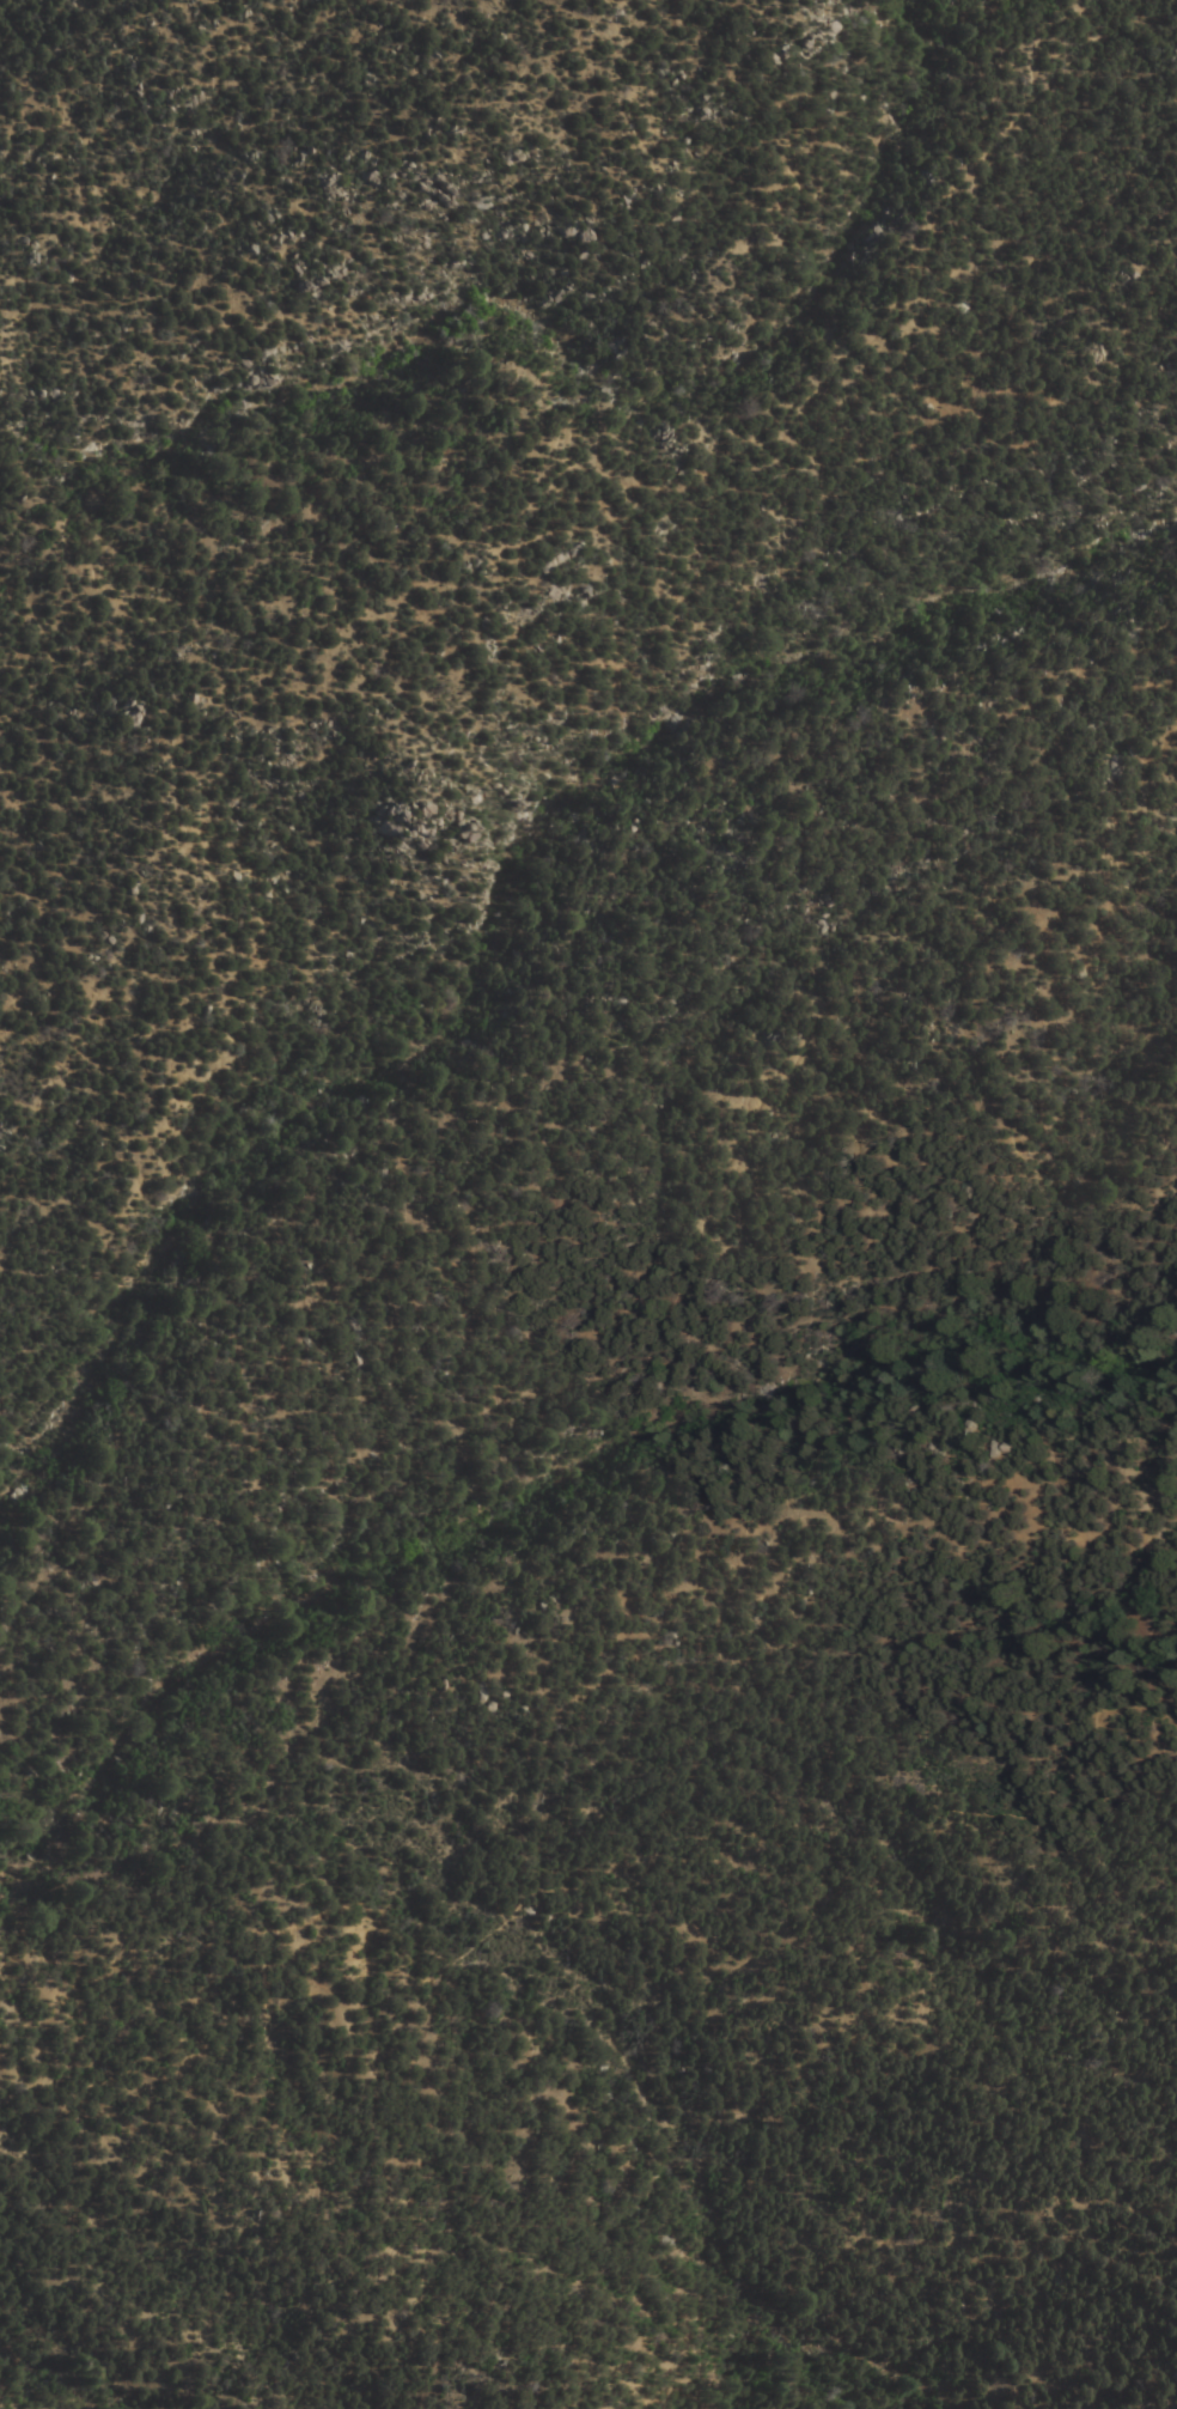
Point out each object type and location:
road: (586, 1880)

